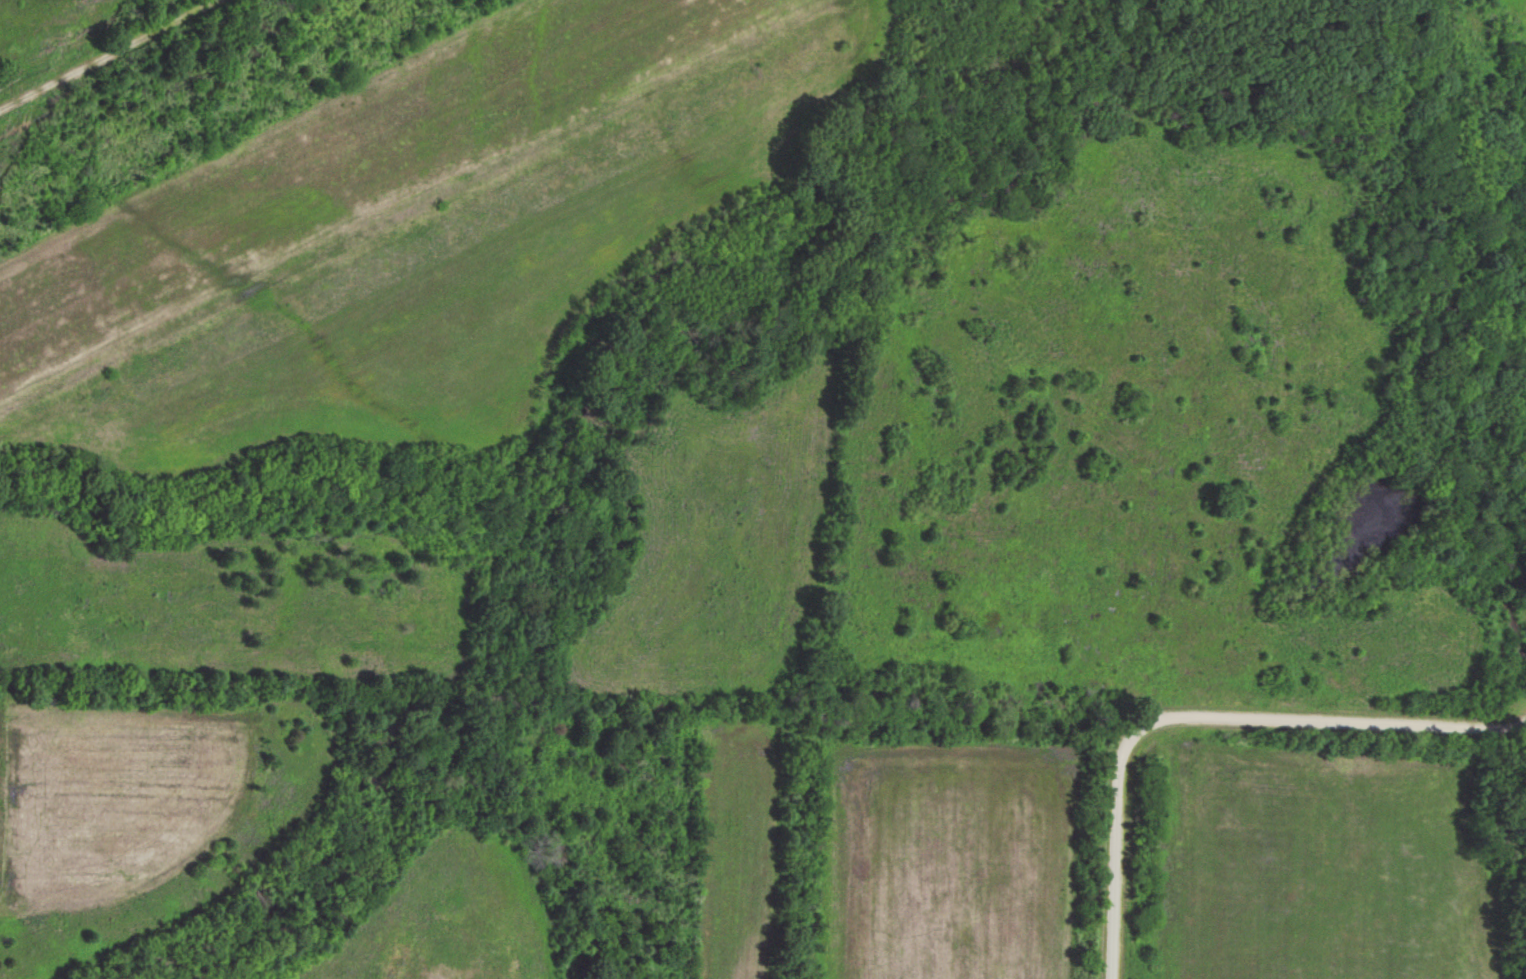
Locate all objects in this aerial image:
road: (1203, 714)

